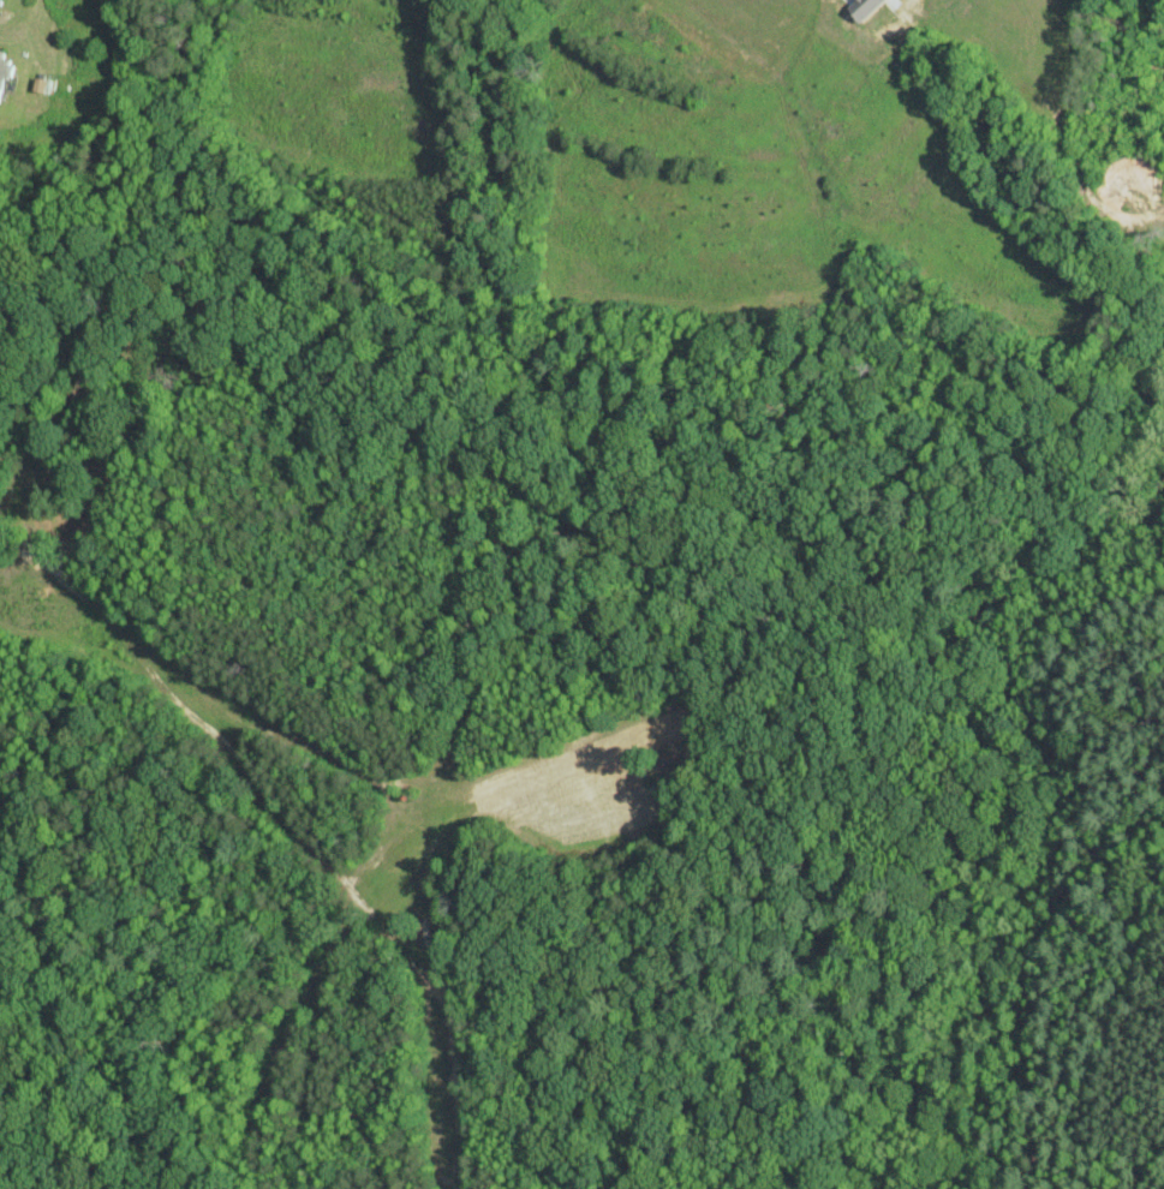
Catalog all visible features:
building: (870, 5)
building: (6, 70)
road: (130, 351)

